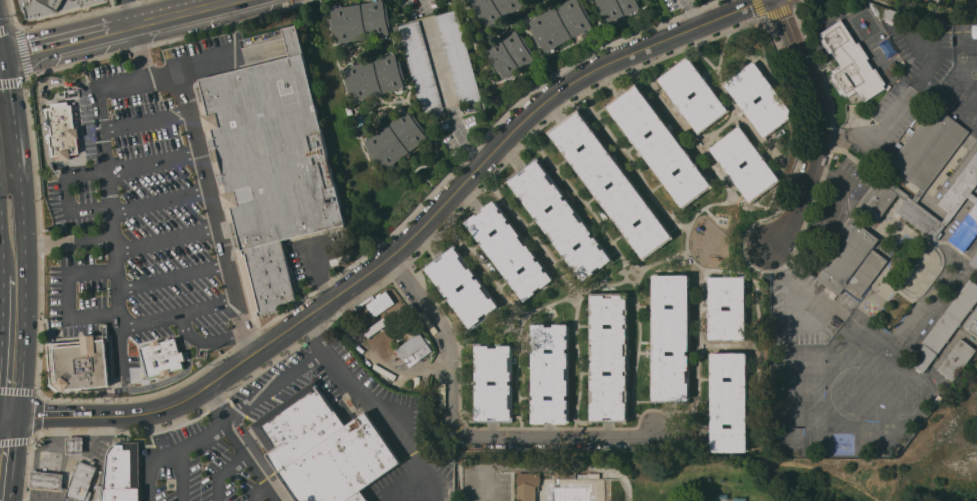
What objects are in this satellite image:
building: (913, 2)
road: (416, 4)
building: (50, 6)
building: (616, 8)
building: (495, 9)
road: (133, 10)
road: (181, 10)
road: (693, 12)
building: (897, 17)
building: (359, 21)
building: (559, 24)
building: (923, 25)
building: (974, 31)
road: (4, 37)
road: (68, 38)
traffic signals: (8, 53)
building: (509, 53)
building: (439, 63)
building: (851, 63)
road: (204, 64)
building: (891, 68)
road: (151, 75)
building: (373, 77)
building: (706, 94)
road: (13, 97)
building: (772, 99)
road: (180, 101)
road: (43, 107)
road: (146, 120)
road: (814, 125)
building: (62, 130)
road: (870, 135)
building: (395, 139)
road: (467, 139)
building: (657, 145)
parking lot: (86, 152)
road: (206, 153)
road: (154, 164)
building: (758, 164)
road: (213, 167)
building: (270, 168)
road: (474, 174)
road: (87, 176)
building: (928, 179)
building: (596, 185)
road: (161, 198)
road: (214, 201)
road: (73, 210)
building: (558, 219)
road: (113, 230)
road: (168, 234)
road: (228, 243)
road: (71, 244)
building: (508, 251)
road: (1, 257)
building: (974, 261)
building: (853, 263)
road: (238, 270)
road: (173, 275)
road: (26, 277)
road: (788, 283)
building: (448, 287)
road: (70, 295)
road: (0, 299)
building: (738, 307)
road: (179, 311)
building: (973, 322)
building: (946, 325)
building: (670, 339)
building: (412, 349)
building: (162, 358)
building: (608, 359)
building: (957, 359)
building: (79, 363)
road: (431, 368)
building: (550, 373)
building: (481, 382)
road: (276, 387)
building: (728, 402)
road: (379, 406)
traffic signals: (21, 414)
road: (107, 414)
road: (463, 434)
road: (86, 435)
road: (55, 439)
building: (75, 445)
road: (240, 446)
building: (323, 448)
road: (173, 452)
road: (34, 453)
road: (15, 457)
parking lot: (202, 464)
park: (775, 470)
road: (223, 473)
building: (121, 474)
building: (572, 474)
road: (183, 475)
road: (37, 479)
road: (404, 479)
building: (46, 480)
building: (82, 481)
building: (528, 485)
road: (258, 491)
road: (482, 492)
road: (872, 492)
road: (35, 493)
road: (33, 500)

